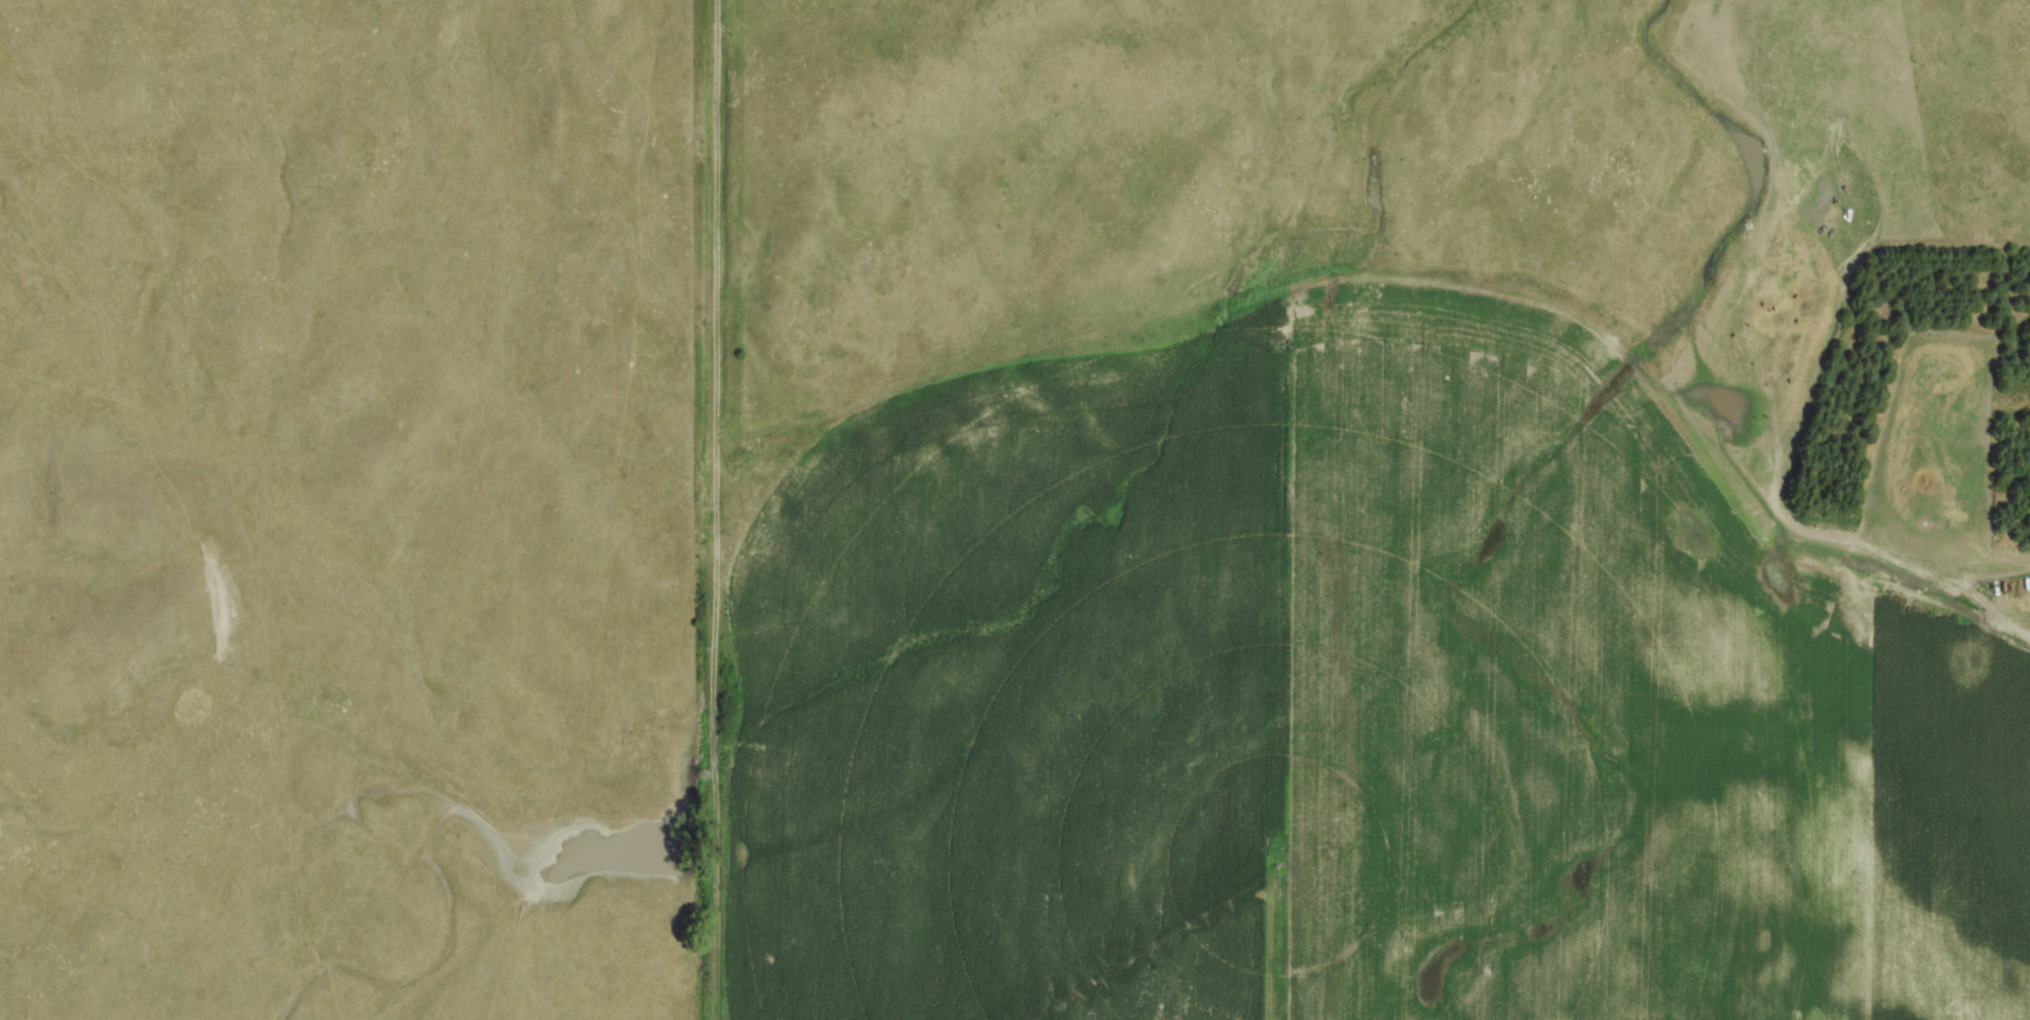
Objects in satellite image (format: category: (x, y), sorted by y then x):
road: (713, 509)

